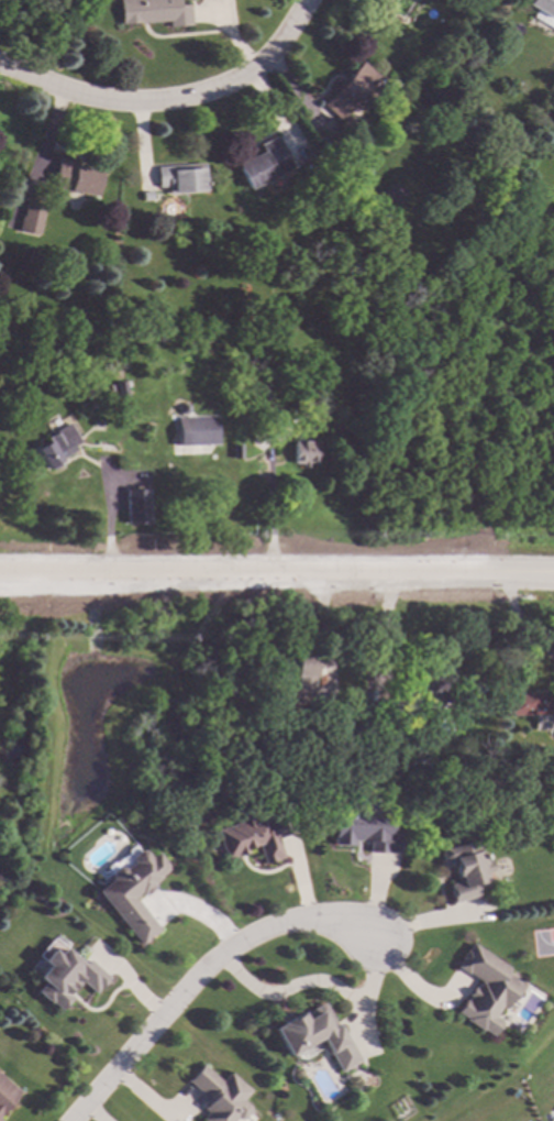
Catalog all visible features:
building: (154, 11)
building: (543, 11)
building: (475, 47)
building: (353, 89)
building: (402, 96)
road: (170, 97)
building: (303, 151)
building: (264, 163)
building: (74, 177)
building: (180, 178)
building: (30, 215)
building: (121, 389)
building: (262, 392)
building: (181, 408)
building: (265, 413)
building: (195, 431)
building: (56, 444)
building: (234, 450)
building: (302, 452)
building: (134, 506)
road: (264, 514)
road: (277, 573)
building: (303, 675)
building: (426, 679)
building: (529, 708)
building: (21, 715)
building: (364, 826)
building: (252, 835)
building: (464, 867)
building: (131, 891)
road: (432, 919)
road: (198, 971)
road: (369, 971)
building: (67, 976)
road: (310, 981)
road: (407, 987)
building: (483, 989)
building: (311, 1034)
building: (5, 1095)
building: (218, 1096)

